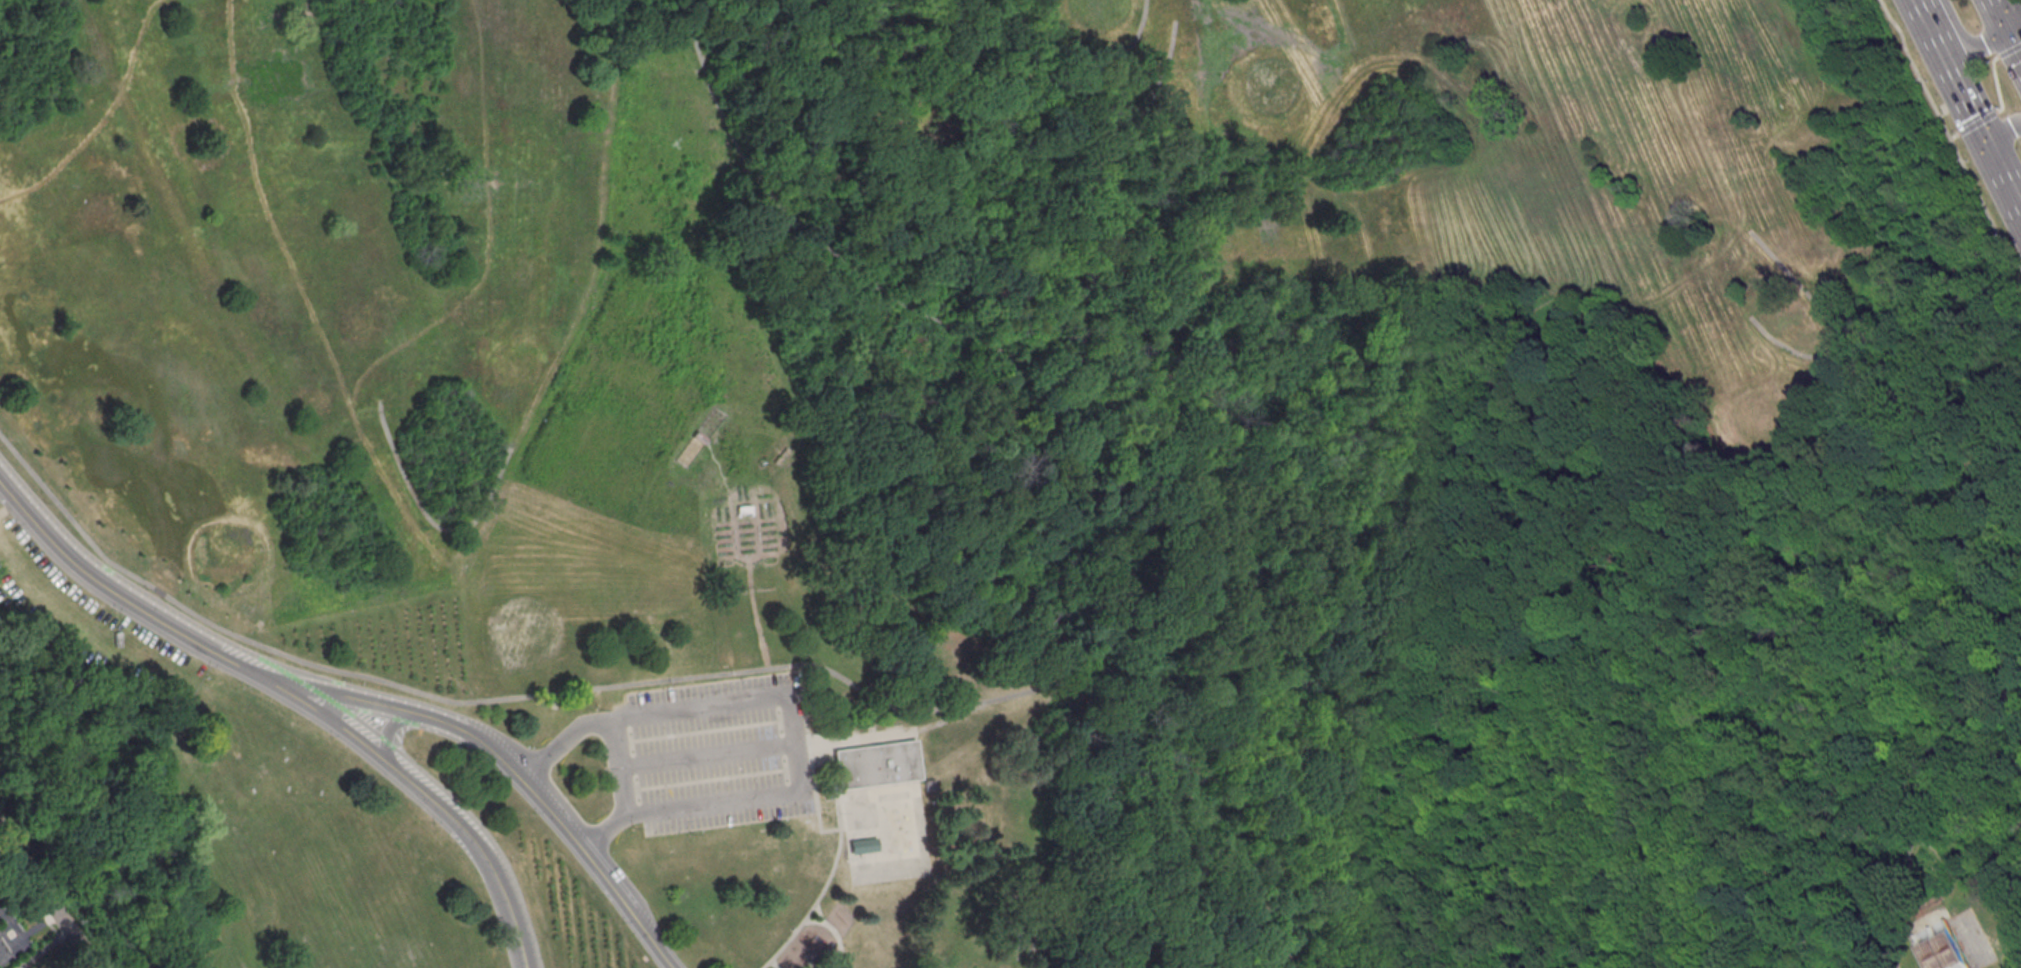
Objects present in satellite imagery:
road: (2009, 9)
road: (2006, 28)
traffic signals: (2008, 32)
road: (1964, 42)
road: (2008, 50)
road: (1995, 85)
road: (1126, 105)
road: (1967, 107)
road: (1943, 112)
road: (1975, 124)
road: (2002, 130)
road: (1952, 137)
road: (1947, 138)
traffic signals: (1984, 139)
park: (1546, 230)
road: (1008, 241)
park: (299, 272)
road: (1829, 321)
road: (794, 438)
road: (1518, 472)
park: (1004, 486)
road: (434, 524)
road: (755, 528)
road: (1825, 533)
road: (736, 555)
road: (1478, 575)
road: (126, 598)
road: (1531, 609)
road: (926, 635)
road: (1400, 682)
road: (362, 688)
road: (789, 699)
road: (344, 705)
road: (906, 709)
road: (429, 711)
road: (408, 713)
road: (387, 731)
road: (897, 733)
road: (807, 739)
road: (560, 745)
road: (378, 753)
parking lot: (720, 754)
road: (707, 756)
road: (409, 759)
building: (877, 765)
building: (930, 786)
road: (817, 819)
water park: (896, 829)
road: (600, 834)
building: (861, 846)
road: (597, 865)
road: (832, 867)
road: (1970, 888)
road: (504, 898)
road: (46, 899)
road: (39, 911)
building: (1935, 918)
road: (820, 922)
road: (837, 942)
park: (1938, 947)
building: (3, 952)
building: (1945, 952)
road: (825, 962)
road: (669, 963)
road: (771, 965)

